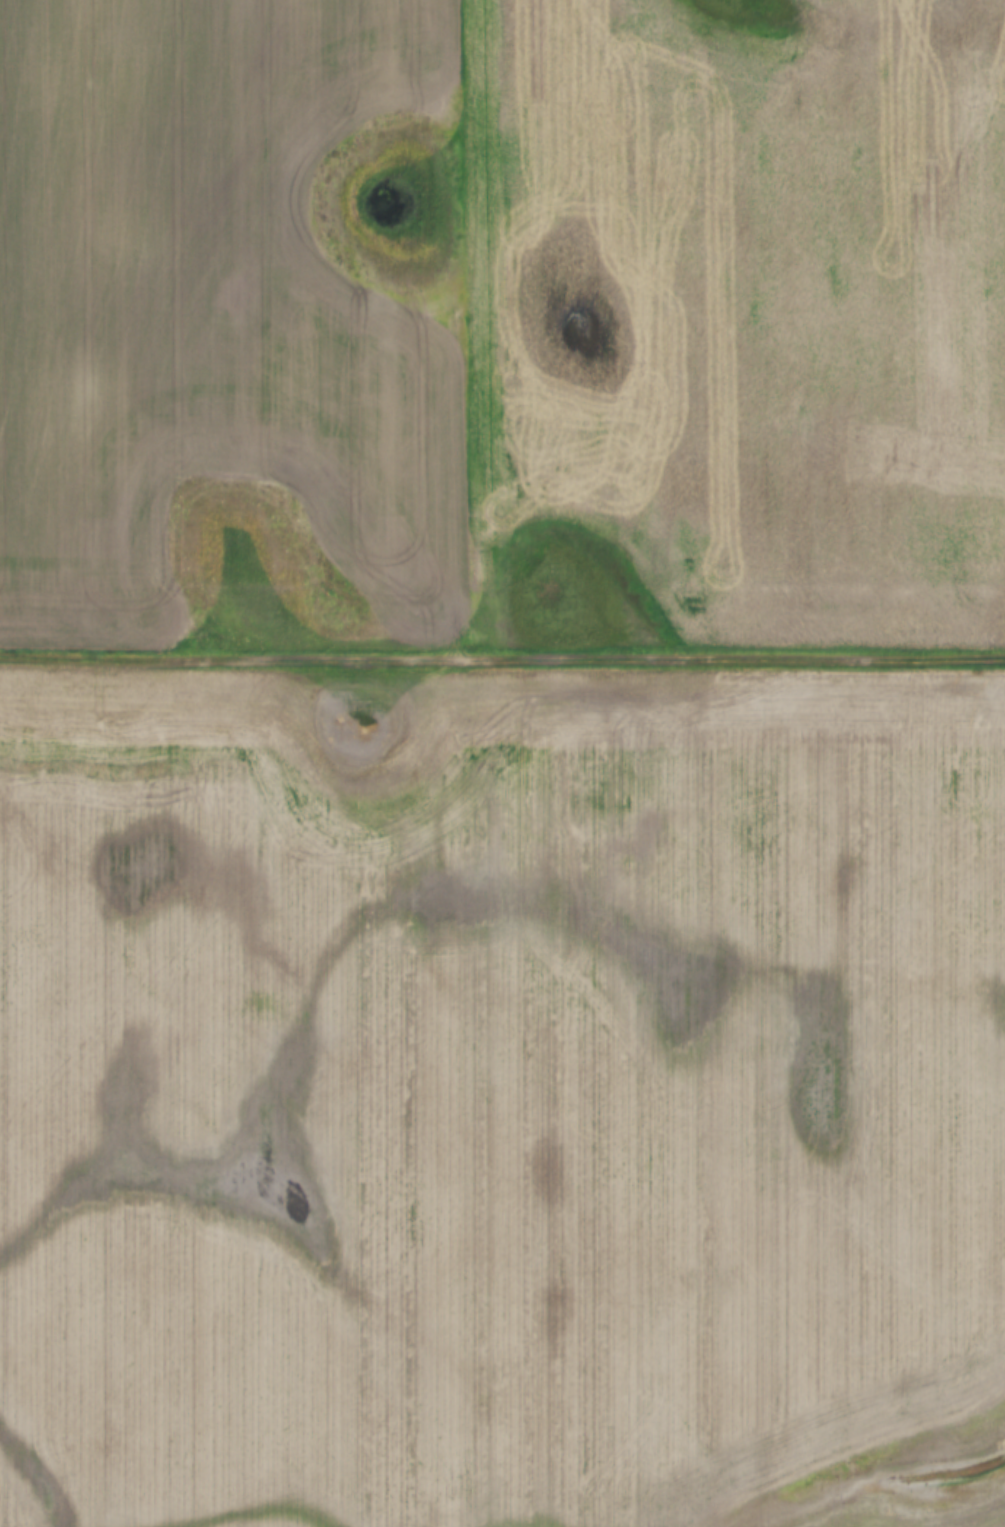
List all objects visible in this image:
road: (502, 661)

